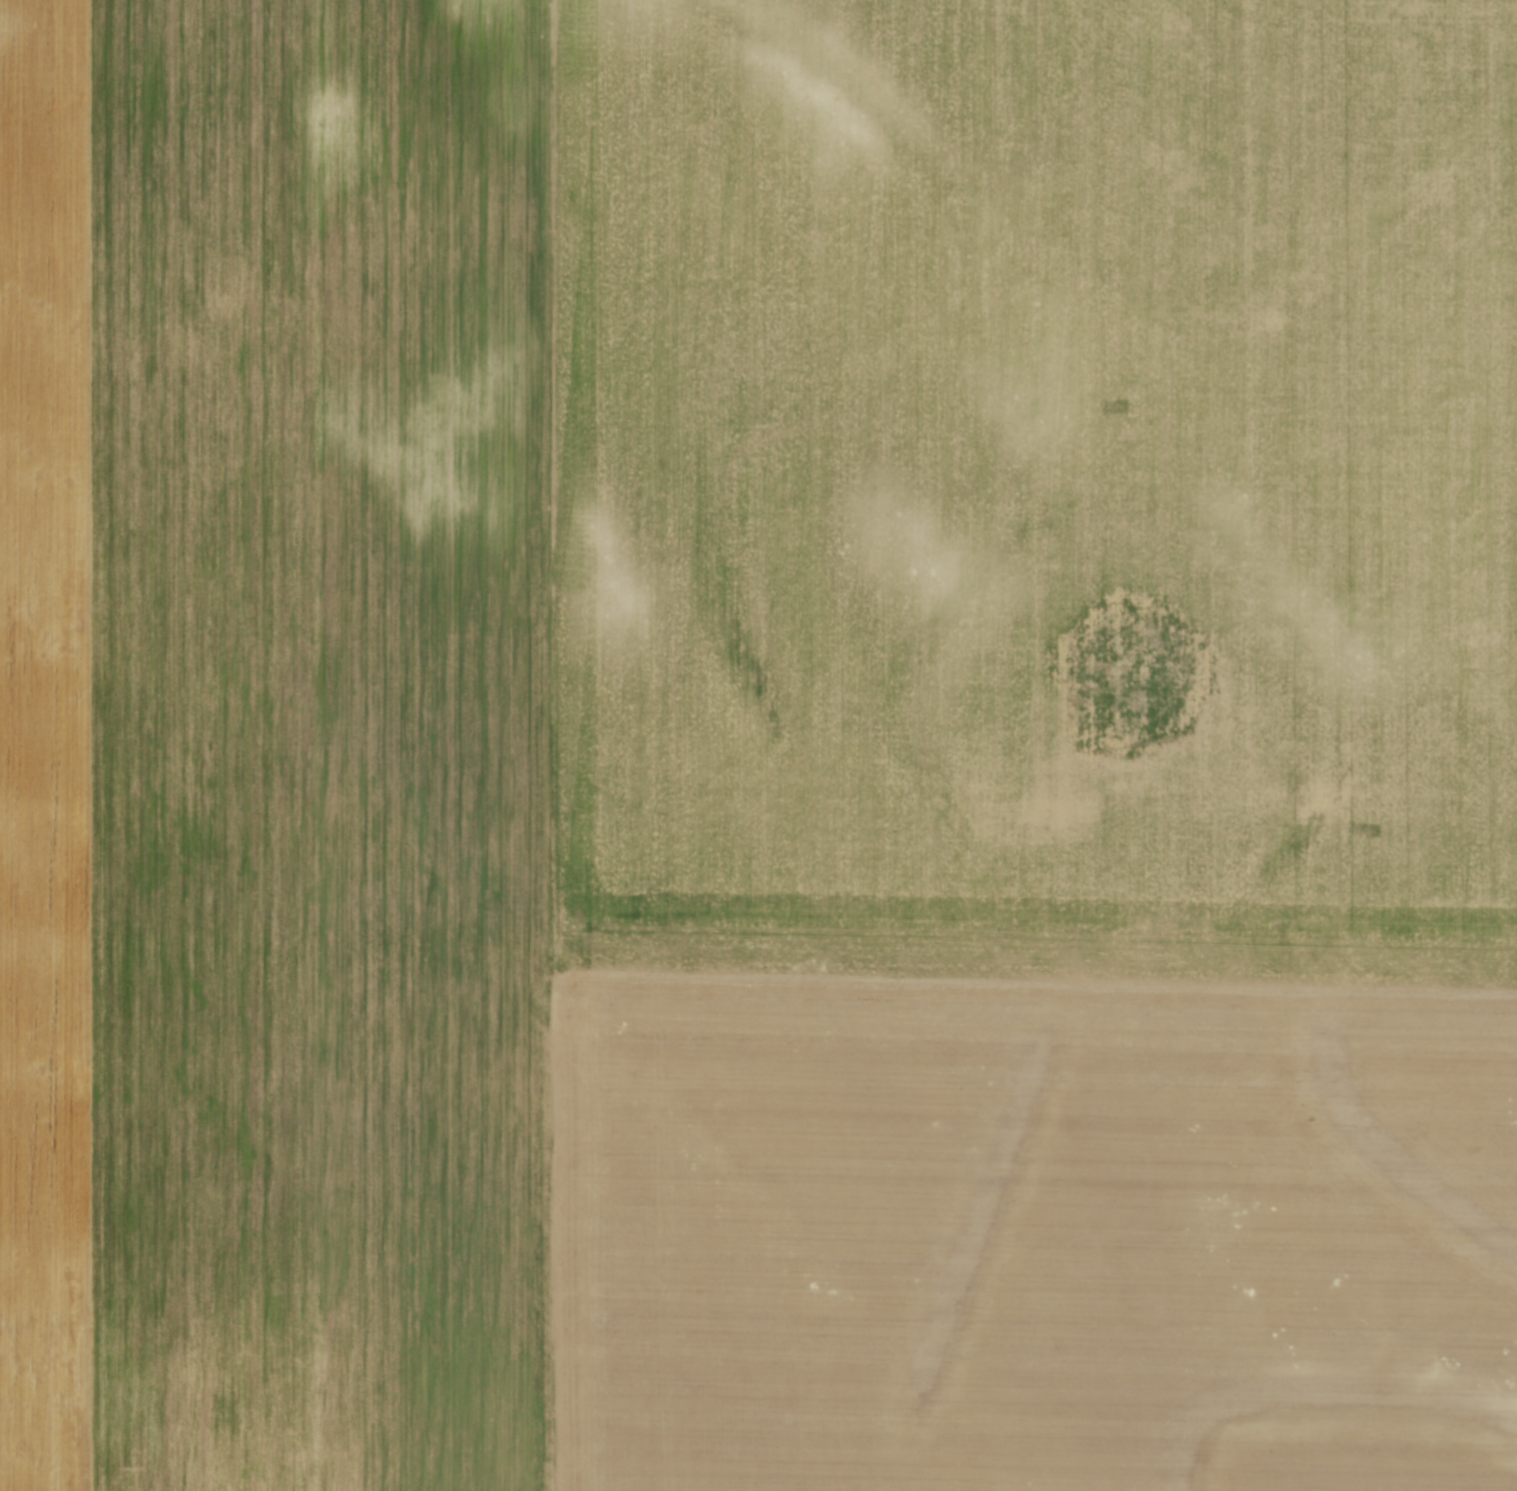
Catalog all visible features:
crop: (758, 745)

